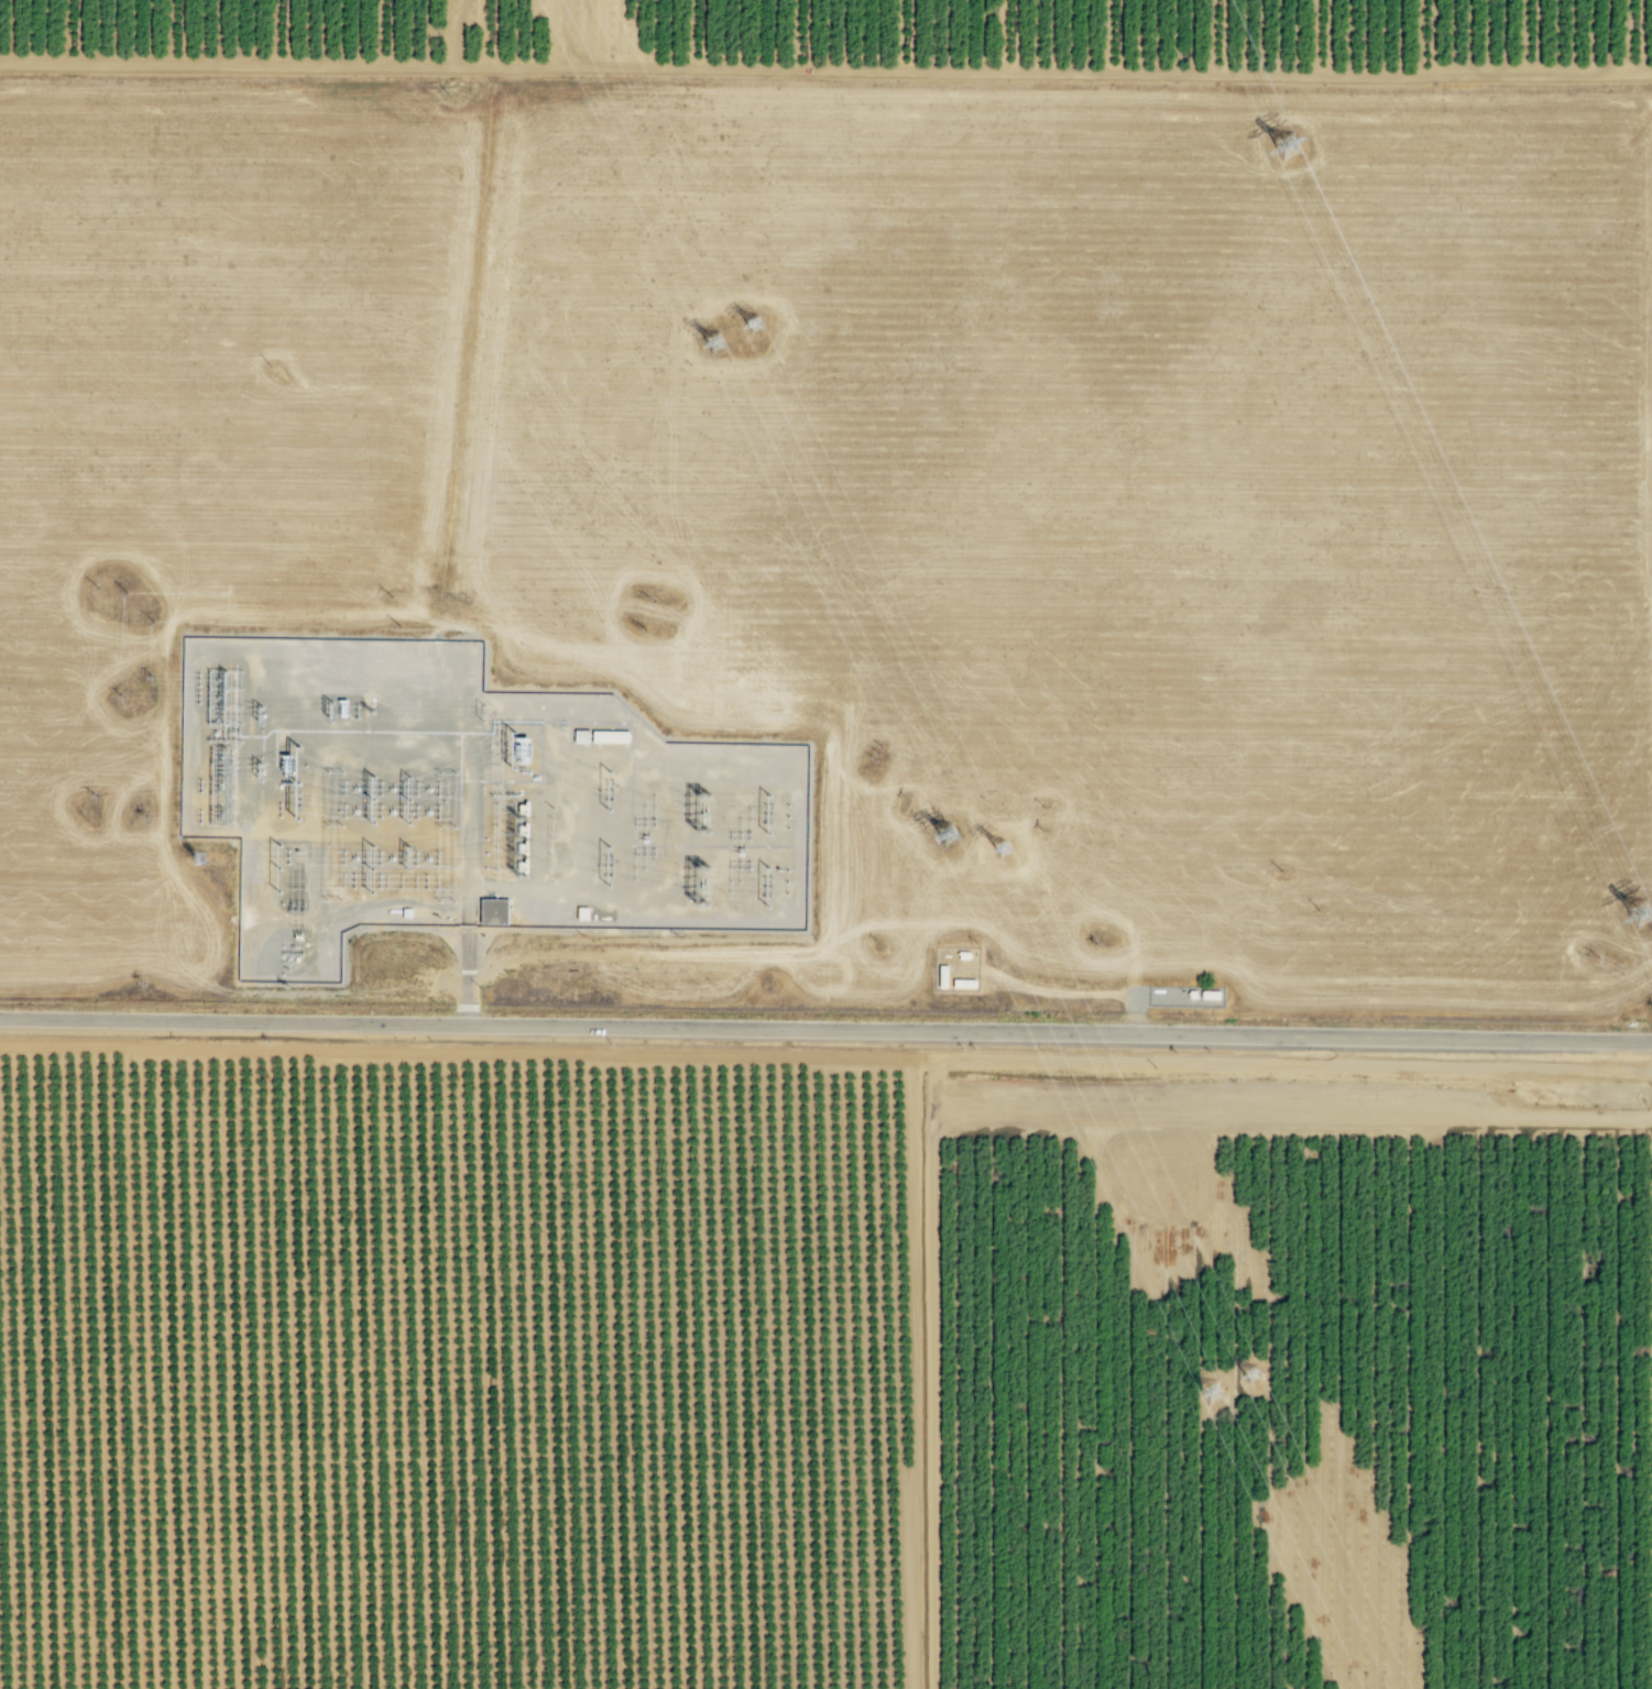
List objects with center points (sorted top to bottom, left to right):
road: (702, 34)
road: (809, 35)
road: (910, 35)
road: (1016, 36)
road: (1119, 36)
road: (1225, 37)
road: (1434, 37)
road: (1326, 39)
road: (825, 70)
power tower: (1289, 146)
power tower: (753, 326)
power tower: (715, 344)
power substation: (467, 802)
power tower: (947, 835)
power tower: (1005, 848)
power tower: (199, 857)
road: (469, 876)
building: (495, 912)
power tower: (1643, 915)
road: (825, 1030)
road: (825, 1056)
road: (1273, 1118)
road: (913, 1373)
power tower: (1250, 1375)
power tower: (1208, 1392)
road: (930, 1396)

